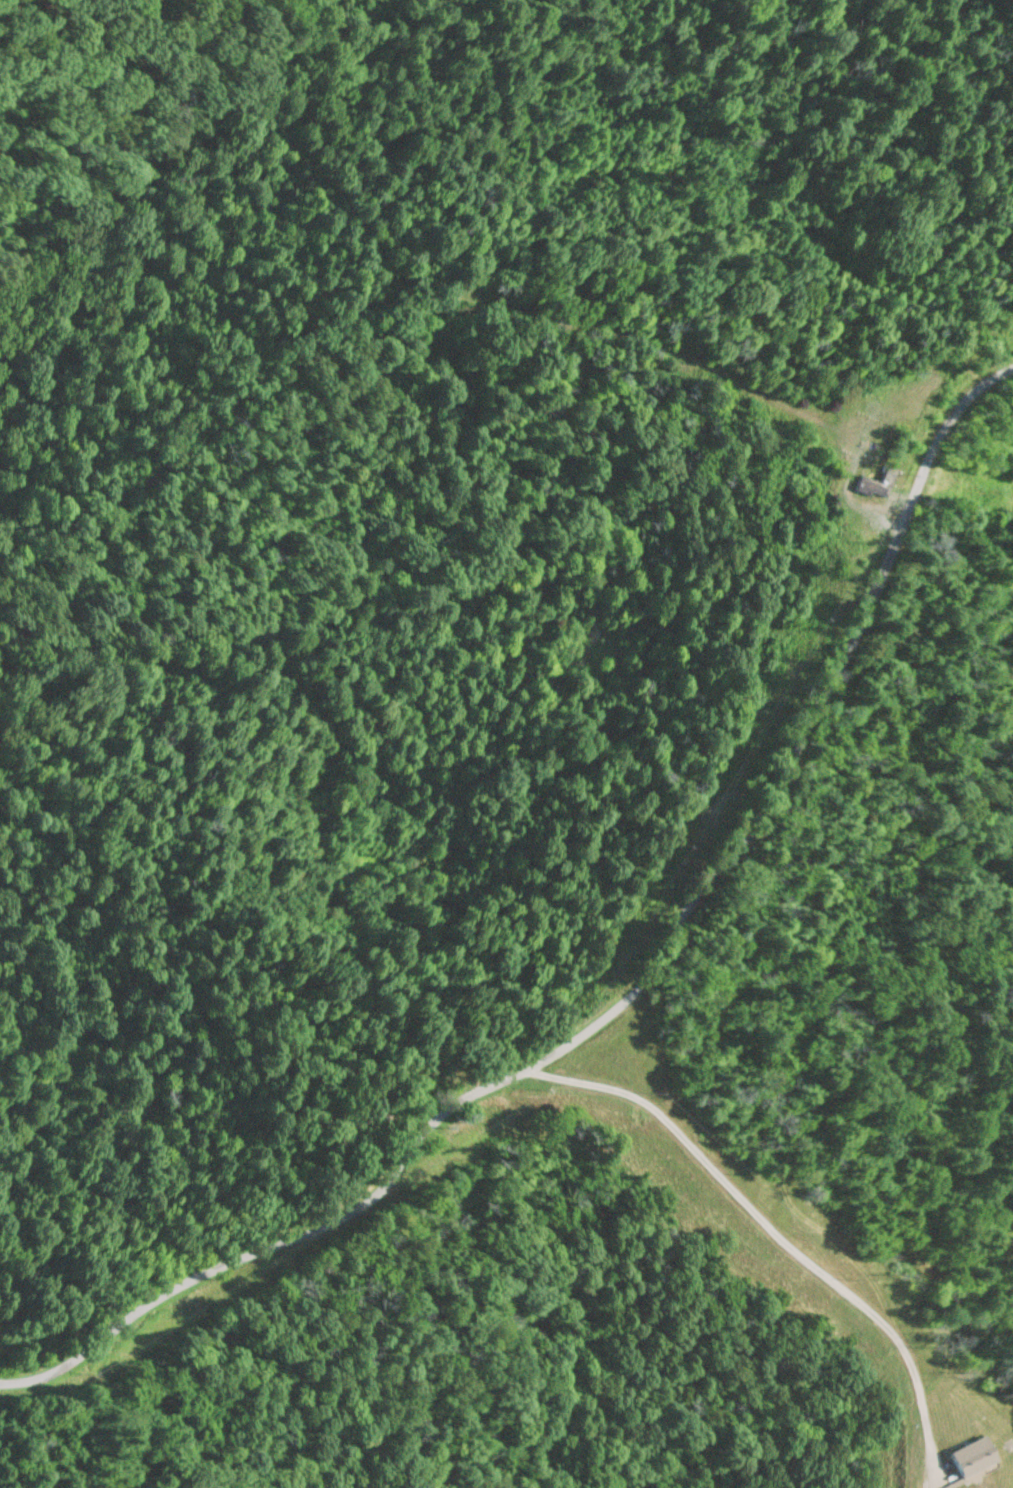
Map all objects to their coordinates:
building: (877, 485)
road: (627, 994)
building: (972, 1457)

